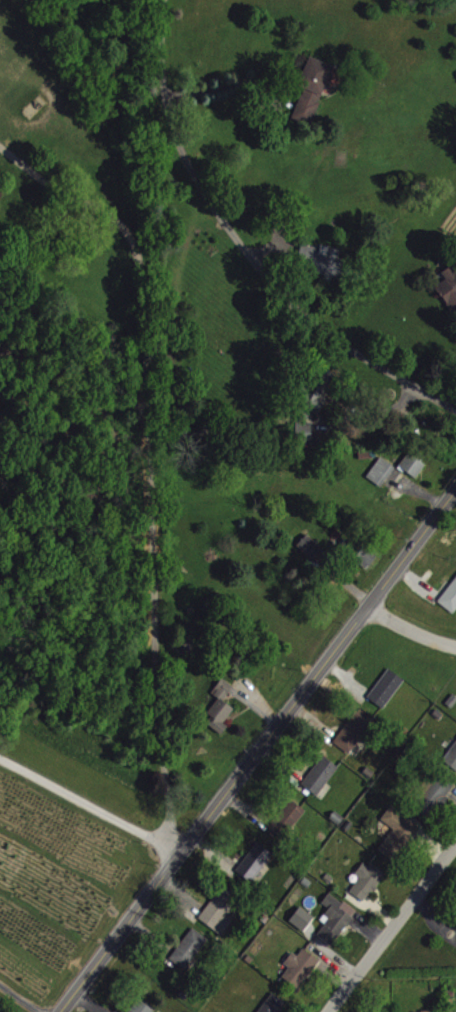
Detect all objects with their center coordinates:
road: (228, 83)
building: (314, 88)
road: (246, 246)
building: (322, 260)
building: (449, 287)
building: (318, 391)
road: (148, 461)
building: (414, 464)
building: (382, 471)
building: (313, 547)
building: (366, 556)
building: (450, 597)
road: (409, 629)
building: (388, 688)
building: (222, 706)
building: (352, 734)
road: (257, 749)
building: (452, 754)
building: (322, 774)
building: (436, 795)
road: (89, 804)
building: (289, 818)
building: (399, 833)
building: (256, 861)
building: (368, 880)
building: (221, 909)
building: (303, 917)
building: (337, 918)
road: (390, 926)
building: (191, 948)
building: (301, 967)
road: (22, 995)
building: (0, 1002)
building: (274, 1003)
building: (143, 1007)
building: (426, 1011)

